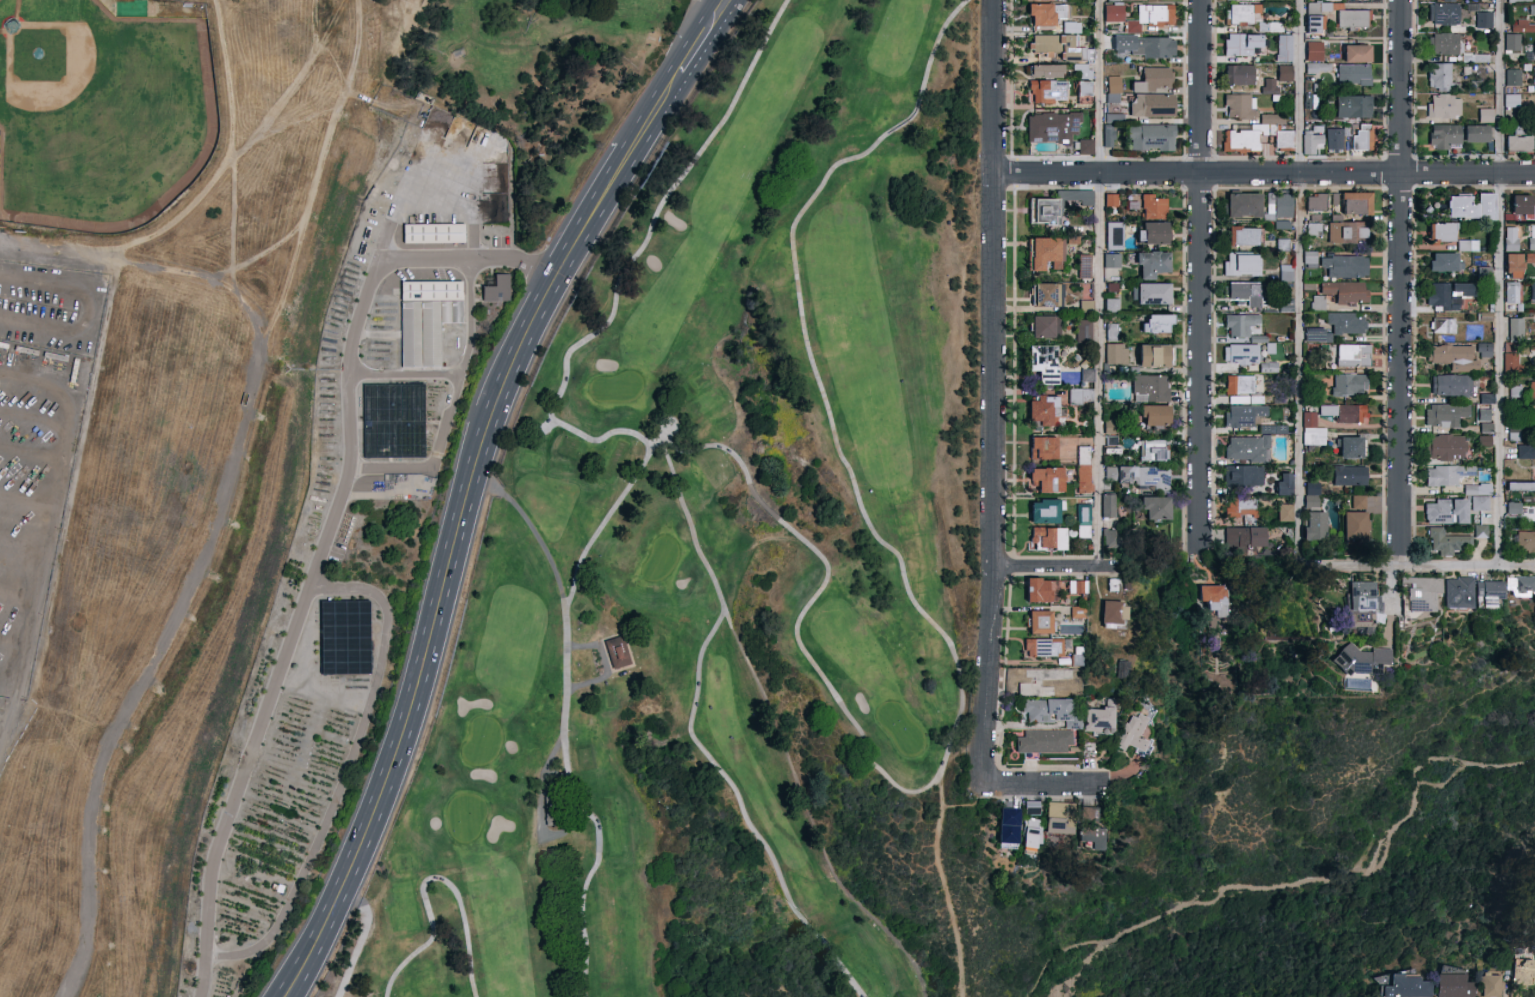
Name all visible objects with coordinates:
parking lot: (694, 0)
building: (1040, 0)
building: (1111, 0)
building: (1519, 1)
building: (1532, 10)
building: (1114, 13)
building: (1048, 14)
building: (1243, 14)
building: (1444, 15)
road: (706, 17)
building: (1151, 17)
building: (1353, 20)
building: (1484, 22)
building: (1315, 25)
building: (1071, 27)
building: (1273, 27)
building: (1517, 35)
park: (460, 38)
building: (1242, 44)
building: (1057, 47)
building: (1153, 48)
building: (1284, 49)
road: (350, 51)
building: (1314, 52)
building: (1458, 52)
building: (1357, 54)
building: (1318, 68)
building: (1080, 69)
building: (1047, 71)
building: (1285, 73)
building: (1353, 74)
building: (1240, 75)
building: (1534, 75)
building: (1440, 76)
road: (1011, 78)
building: (1513, 78)
building: (1155, 80)
road: (289, 81)
building: (1114, 87)
building: (1048, 91)
building: (1085, 92)
building: (1512, 101)
road: (337, 104)
park: (569, 104)
building: (1153, 106)
building: (1240, 106)
building: (1444, 106)
building: (1354, 107)
park: (101, 112)
building: (1486, 115)
building: (1274, 119)
building: (1052, 127)
building: (1476, 134)
building: (1107, 135)
building: (1152, 138)
building: (1445, 138)
building: (1335, 139)
building: (1312, 140)
building: (1241, 141)
building: (1284, 141)
building: (1361, 141)
building: (1519, 143)
road: (227, 144)
building: (1086, 147)
road: (1264, 172)
building: (1110, 199)
building: (1315, 203)
building: (1357, 204)
building: (1244, 205)
building: (1279, 206)
building: (1471, 206)
building: (1154, 207)
building: (1522, 207)
building: (1044, 211)
building: (1314, 217)
road: (177, 220)
building: (1313, 230)
building: (431, 232)
building: (1113, 232)
building: (1443, 232)
building: (1351, 233)
building: (1154, 234)
building: (1532, 236)
building: (1243, 237)
building: (1512, 239)
building: (1283, 245)
building: (1468, 246)
road: (293, 249)
building: (1046, 254)
building: (1529, 258)
building: (1111, 259)
building: (1310, 260)
building: (1445, 262)
building: (1152, 264)
building: (1242, 265)
building: (1345, 266)
building: (1515, 267)
building: (1286, 273)
road: (1200, 277)
road: (1098, 283)
road: (1499, 283)
road: (1297, 284)
road: (1399, 284)
building: (495, 288)
building: (1347, 292)
building: (1532, 292)
building: (1154, 294)
building: (1245, 294)
building: (1512, 294)
building: (1044, 295)
building: (1448, 296)
building: (1284, 303)
building: (1318, 303)
building: (1085, 305)
building: (425, 318)
building: (1157, 324)
building: (1240, 325)
building: (1442, 326)
building: (1045, 327)
building: (1339, 327)
building: (1516, 329)
building: (1082, 330)
building: (1111, 331)
building: (1484, 351)
building: (1115, 353)
building: (1448, 355)
building: (1156, 356)
building: (1353, 356)
building: (1239, 357)
building: (1512, 362)
building: (1044, 364)
road: (405, 374)
building: (1348, 386)
building: (1451, 387)
building: (1151, 388)
building: (1239, 388)
building: (1532, 390)
road: (996, 393)
building: (1078, 397)
road: (452, 405)
building: (1043, 411)
building: (1346, 414)
building: (1445, 415)
building: (1155, 416)
building: (1242, 416)
parking lot: (36, 420)
building: (1273, 429)
building: (1312, 431)
building: (1515, 432)
building: (1111, 440)
building: (1043, 447)
building: (1351, 448)
building: (1446, 448)
building: (1247, 449)
building: (1154, 450)
building: (1526, 452)
building: (1084, 461)
building: (1446, 475)
building: (1140, 476)
building: (1245, 476)
building: (1350, 476)
building: (1047, 480)
road: (470, 482)
building: (1284, 484)
building: (1521, 486)
road: (72, 489)
building: (1476, 489)
building: (1311, 495)
park: (486, 497)
building: (1481, 504)
building: (1108, 506)
building: (1242, 508)
building: (1156, 509)
road: (769, 510)
building: (1046, 510)
road: (610, 512)
building: (1446, 512)
building: (1285, 513)
building: (1084, 522)
building: (1356, 525)
building: (1315, 526)
building: (1481, 531)
road: (211, 532)
building: (1245, 538)
building: (1048, 539)
building: (1112, 539)
building: (1447, 542)
road: (324, 544)
building: (1525, 545)
road: (696, 546)
road: (1062, 566)
park: (718, 568)
road: (1351, 568)
road: (1467, 568)
building: (1524, 584)
building: (1078, 587)
building: (1042, 590)
building: (1490, 590)
building: (1459, 592)
building: (1421, 595)
building: (1363, 596)
building: (1211, 599)
road: (1391, 603)
road: (563, 611)
building: (1076, 611)
building: (1113, 614)
building: (1041, 621)
building: (342, 636)
building: (1043, 648)
building: (616, 651)
building: (1362, 660)
building: (1121, 670)
building: (1043, 675)
building: (1033, 690)
building: (1047, 710)
building: (1098, 720)
road: (6, 729)
building: (1132, 734)
building: (1043, 742)
road: (344, 770)
road: (932, 785)
road: (1044, 786)
building: (1032, 808)
building: (1059, 818)
building: (1009, 828)
building: (1091, 828)
building: (1033, 834)
road: (599, 838)
road: (604, 865)
road: (946, 876)
road: (1293, 880)
road: (428, 912)
road: (435, 943)
road: (837, 962)
building: (1524, 974)
building: (1453, 986)
building: (1490, 986)
building: (1406, 987)

